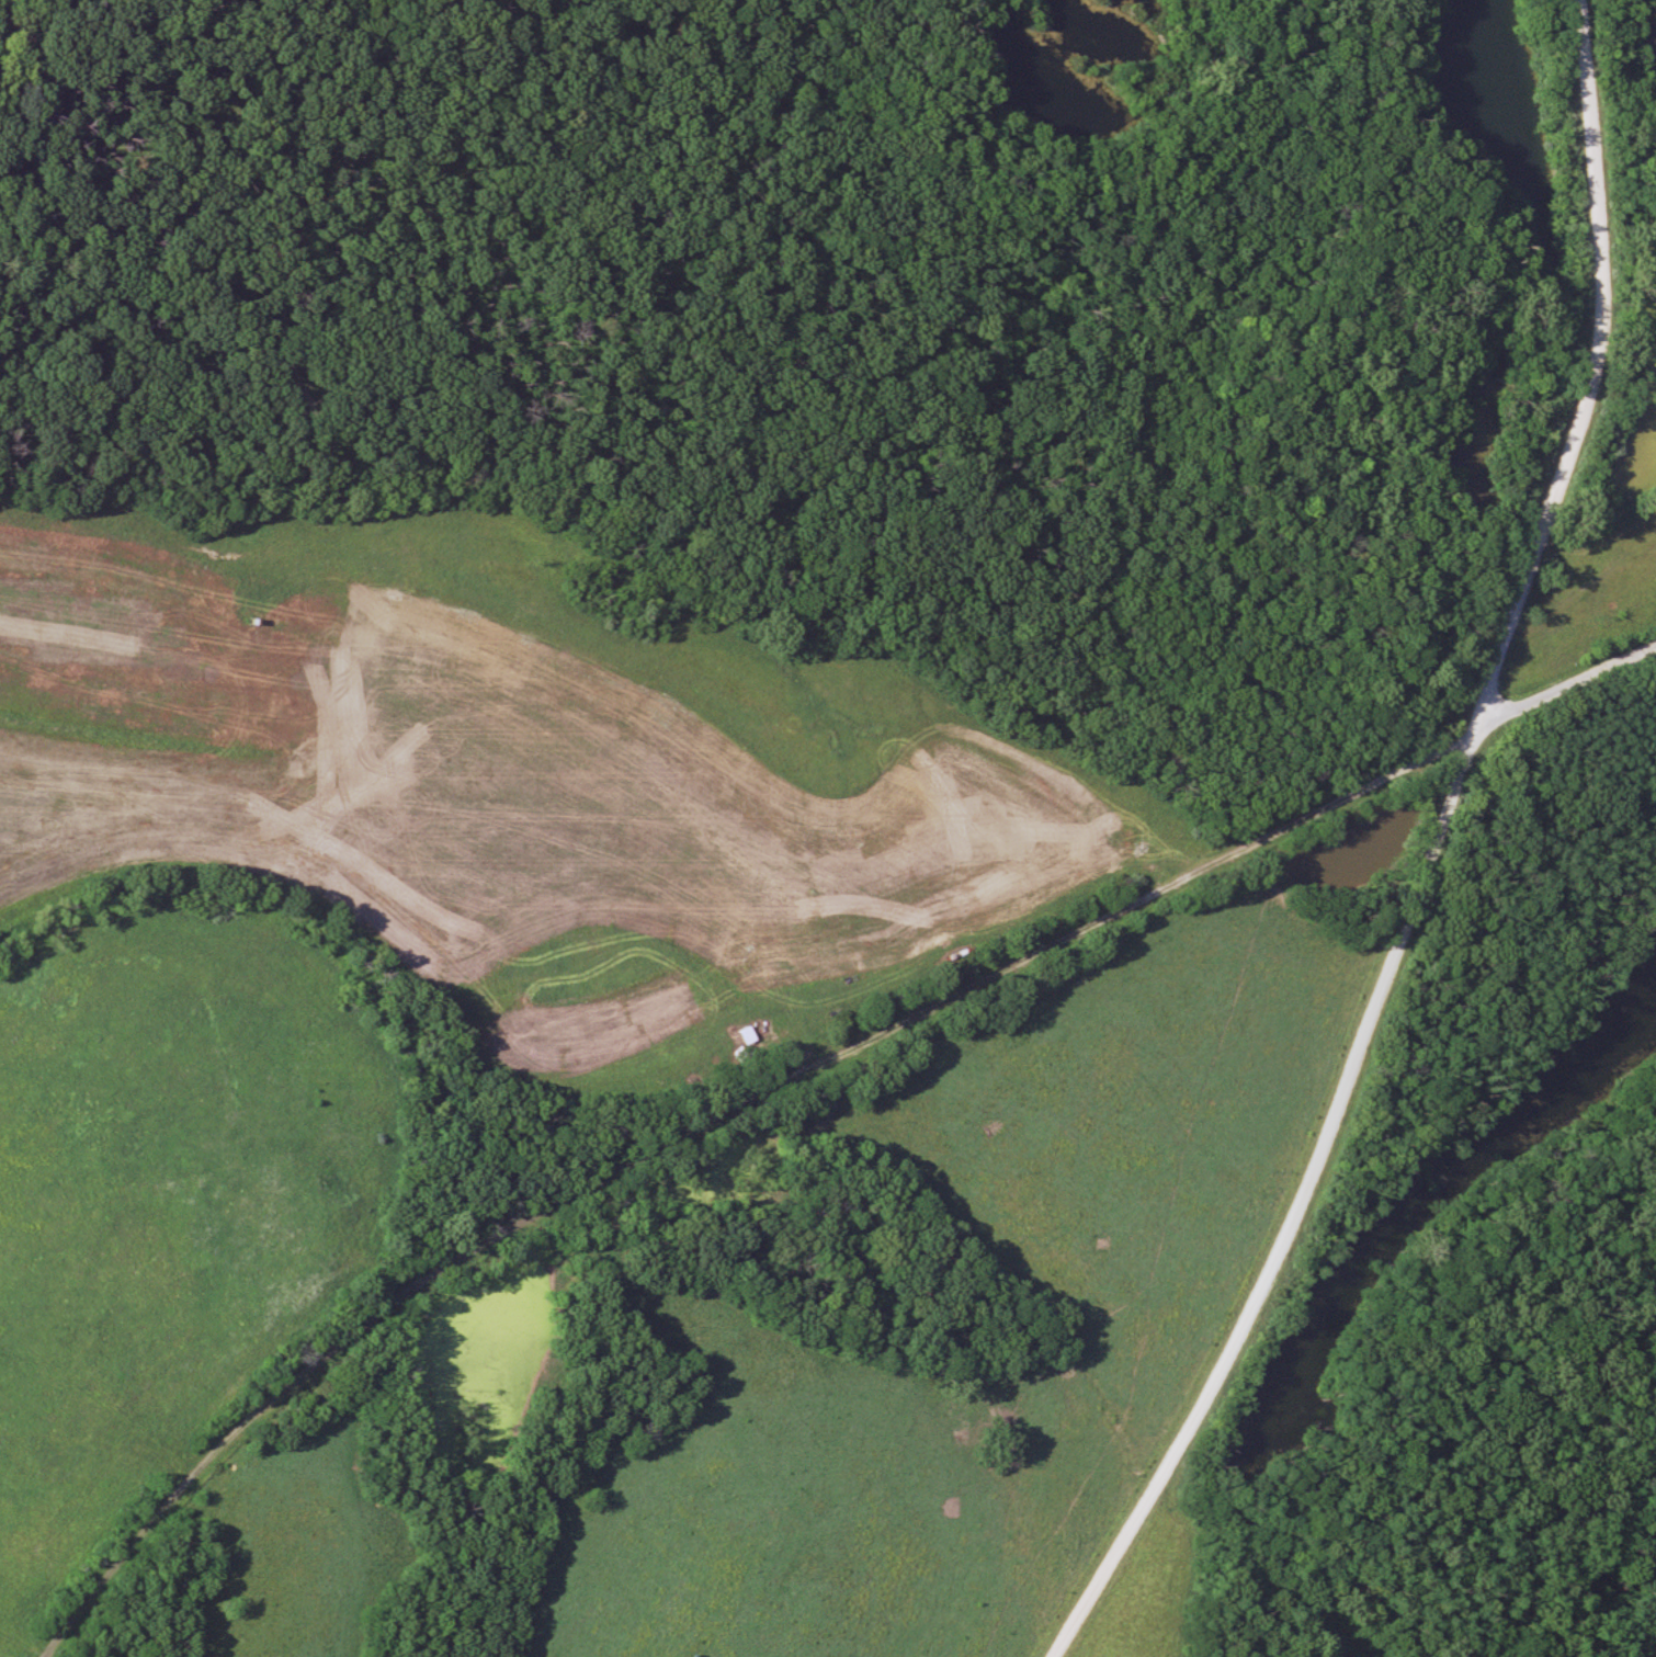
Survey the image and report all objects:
road: (1565, 694)
road: (1427, 858)

